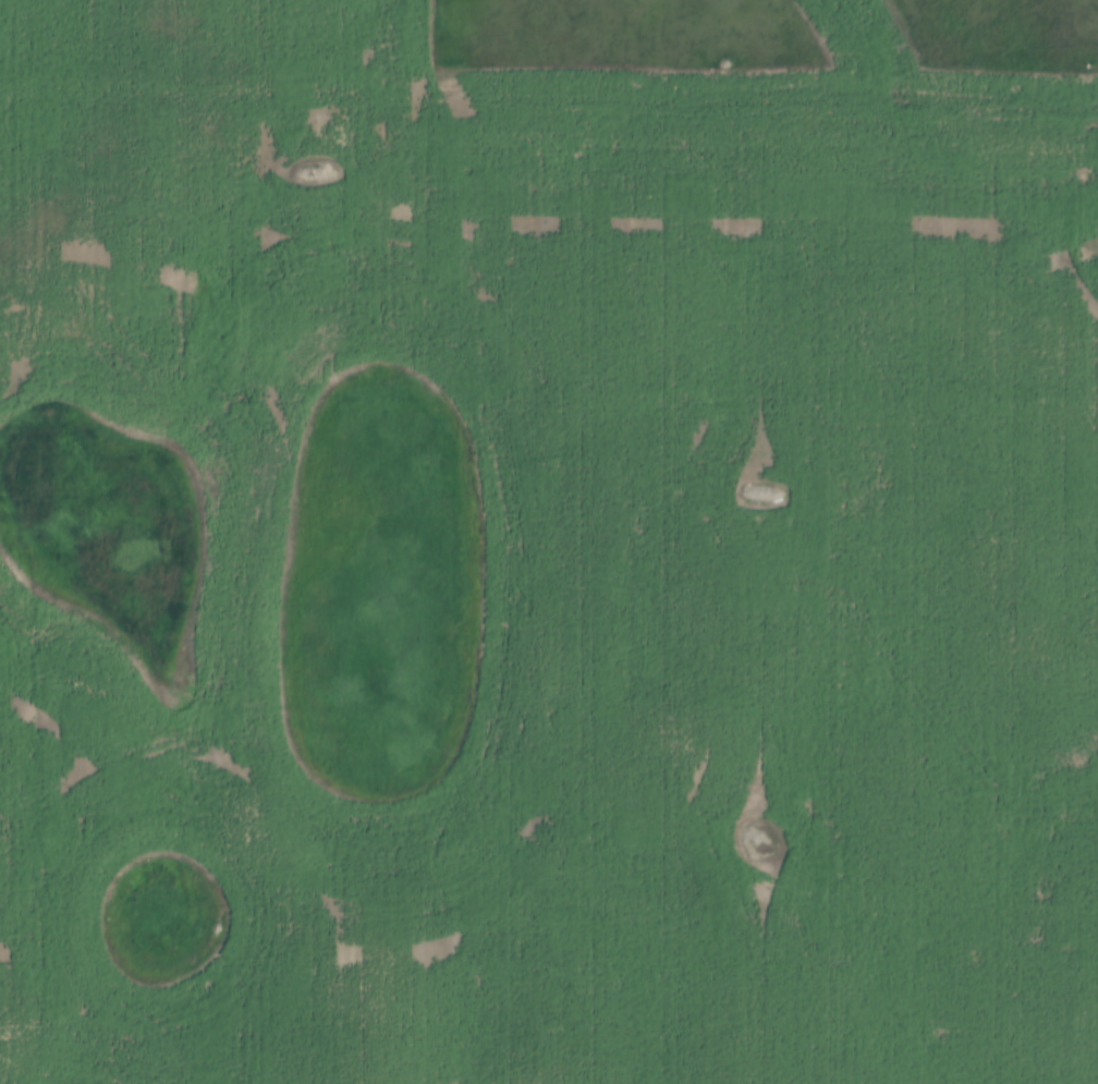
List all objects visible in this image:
road: (566, 770)

